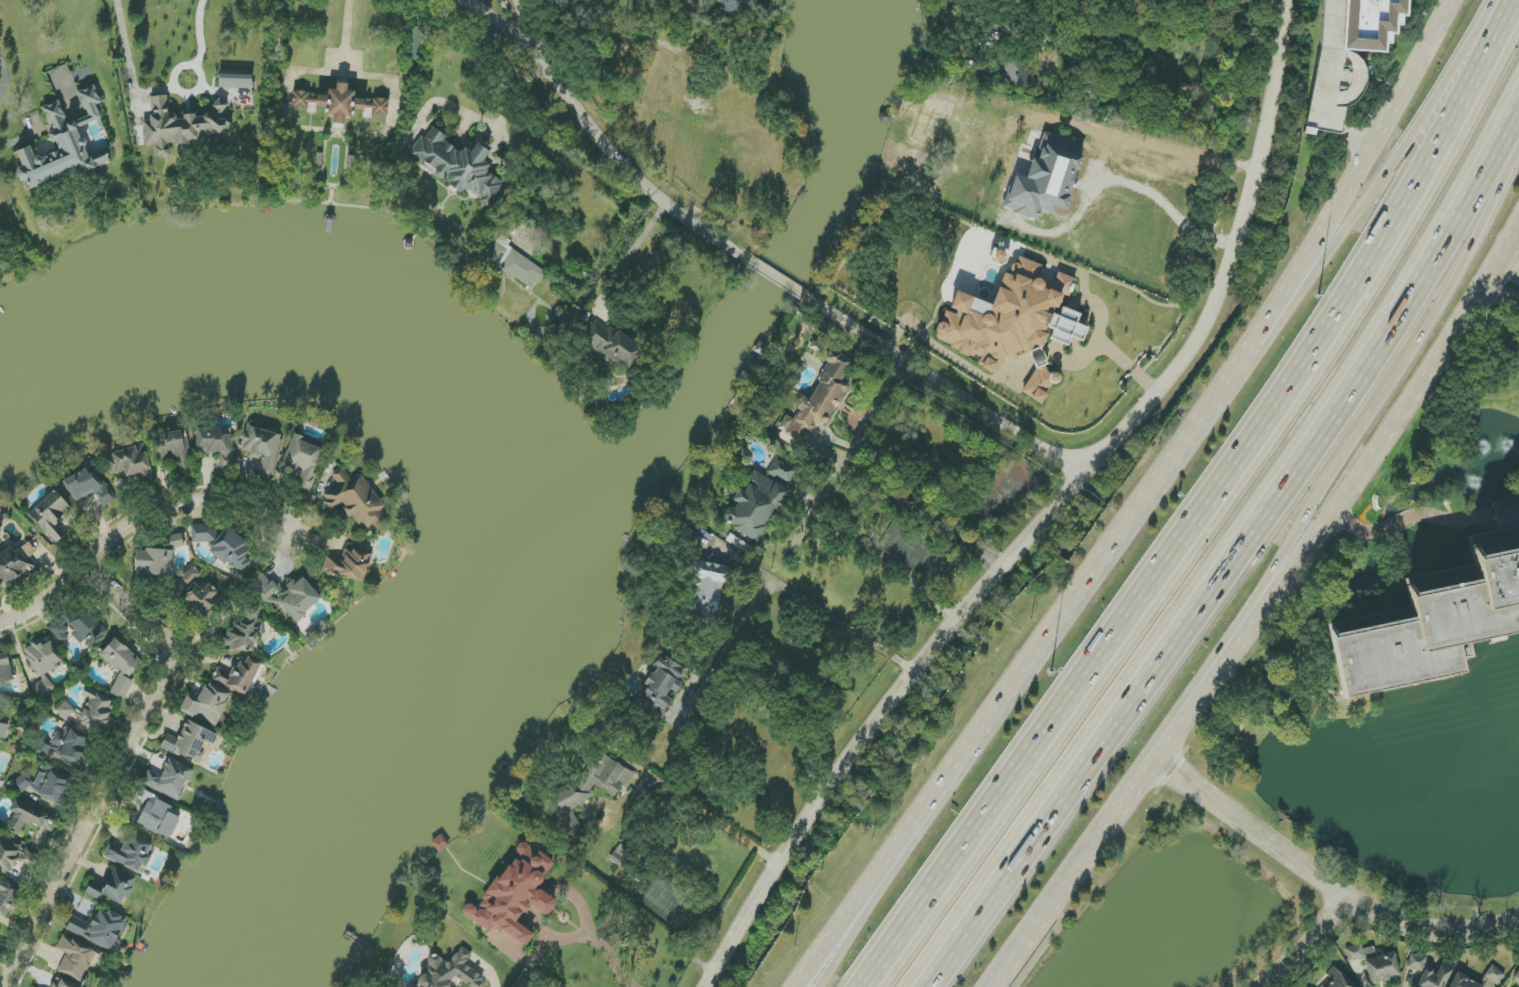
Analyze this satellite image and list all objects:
building: (730, 6)
road: (494, 20)
building: (1370, 23)
road: (348, 35)
building: (1017, 72)
road: (5, 75)
building: (235, 78)
road: (158, 90)
building: (340, 104)
road: (479, 118)
building: (181, 126)
road: (5, 142)
building: (63, 145)
road: (616, 146)
road: (1172, 152)
building: (457, 165)
road: (552, 175)
building: (1046, 177)
road: (1365, 208)
road: (632, 255)
building: (513, 263)
road: (1508, 271)
road: (781, 281)
building: (1014, 323)
building: (613, 344)
road: (1128, 366)
road: (947, 388)
building: (818, 400)
building: (159, 440)
building: (217, 445)
building: (263, 447)
road: (1357, 449)
building: (174, 451)
building: (304, 460)
building: (129, 463)
building: (782, 470)
building: (89, 487)
road: (1347, 499)
building: (355, 500)
road: (916, 503)
road: (1144, 503)
road: (1207, 505)
building: (755, 506)
road: (1050, 515)
road: (1424, 515)
building: (51, 516)
road: (137, 524)
building: (176, 541)
building: (222, 545)
road: (1241, 559)
road: (890, 560)
building: (154, 562)
building: (15, 563)
building: (350, 564)
road: (785, 589)
building: (199, 591)
building: (706, 593)
building: (287, 596)
building: (88, 630)
building: (59, 631)
building: (1426, 632)
building: (244, 633)
building: (121, 658)
building: (43, 663)
building: (5, 668)
building: (238, 677)
building: (662, 685)
building: (122, 687)
building: (207, 705)
building: (96, 708)
building: (65, 710)
building: (3, 731)
building: (190, 743)
building: (67, 746)
road: (124, 763)
building: (169, 780)
building: (45, 785)
building: (569, 794)
road: (692, 805)
building: (29, 818)
building: (158, 819)
building: (132, 854)
building: (8, 856)
building: (622, 856)
road: (1075, 873)
road: (887, 878)
road: (1325, 883)
building: (113, 888)
building: (515, 894)
building: (7, 898)
building: (0, 927)
building: (100, 929)
road: (1315, 948)
road: (608, 949)
building: (74, 958)
building: (1375, 963)
building: (450, 972)
building: (1431, 972)
building: (1494, 975)
building: (1517, 977)
building: (1340, 981)
building: (1463, 982)
building: (1308, 986)

